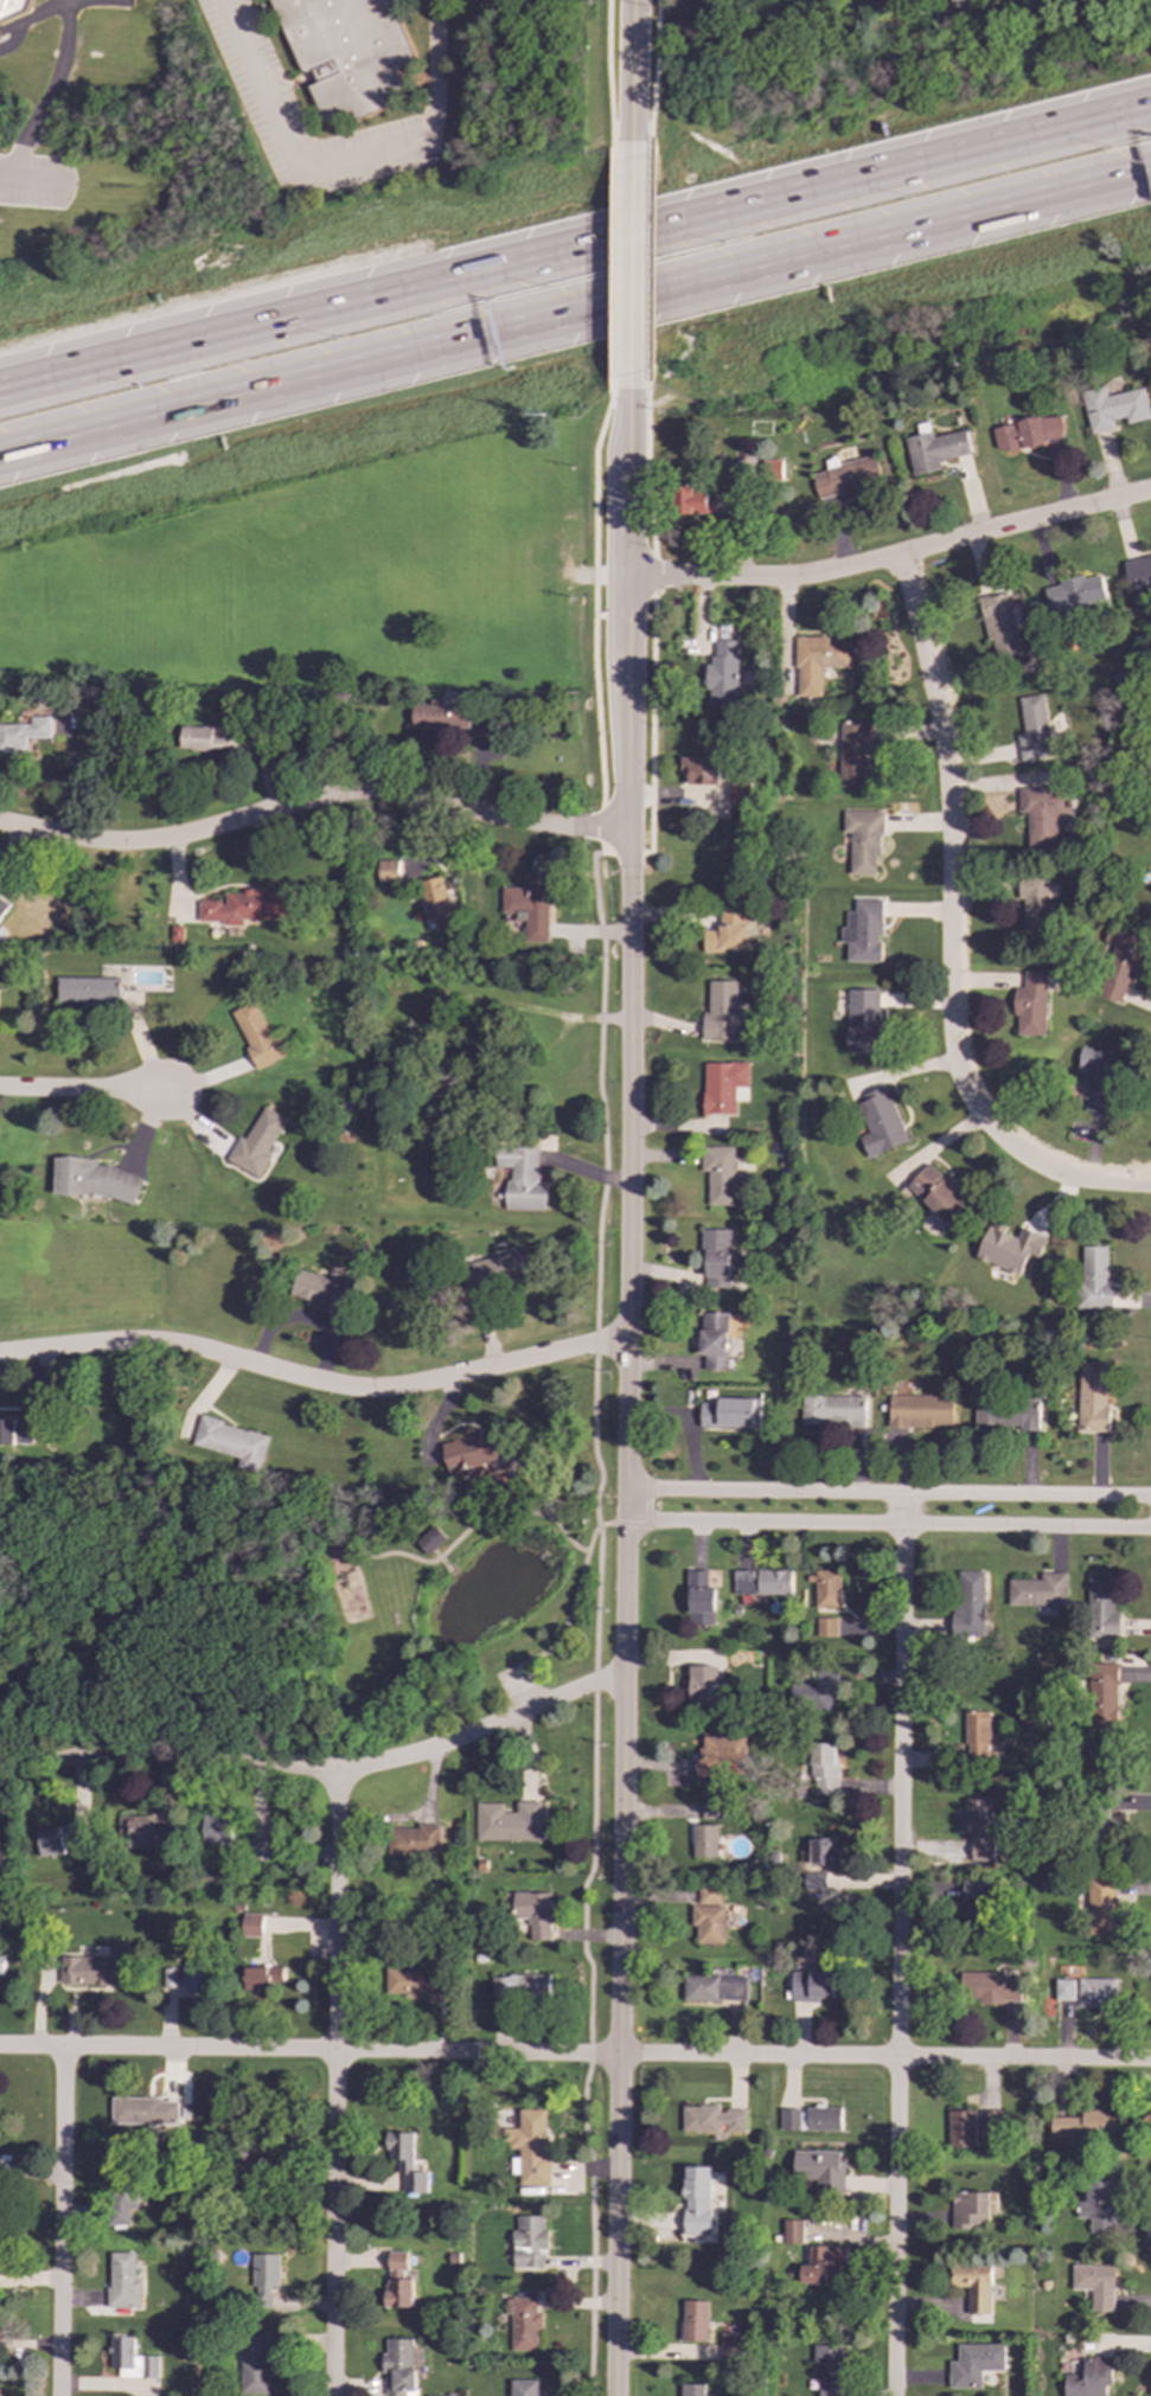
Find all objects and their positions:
building: (959, 4)
building: (12, 8)
building: (349, 51)
road: (608, 70)
road: (633, 70)
road: (654, 70)
road: (50, 95)
road: (341, 159)
road: (575, 244)
road: (613, 264)
road: (632, 264)
road: (648, 265)
road: (575, 313)
building: (1113, 404)
building: (1028, 430)
building: (936, 446)
building: (772, 468)
road: (650, 473)
building: (846, 475)
building: (691, 498)
road: (895, 556)
road: (652, 572)
building: (1139, 577)
building: (1074, 592)
road: (593, 596)
road: (621, 615)
building: (999, 622)
building: (819, 658)
building: (720, 670)
building: (440, 715)
road: (651, 722)
building: (1034, 725)
building: (23, 733)
building: (200, 739)
building: (851, 750)
building: (698, 767)
building: (738, 787)
road: (314, 800)
building: (1042, 812)
road: (600, 828)
building: (864, 840)
road: (624, 851)
building: (388, 876)
building: (1150, 879)
building: (1150, 888)
building: (1034, 901)
building: (435, 902)
building: (245, 906)
building: (2, 908)
building: (527, 910)
building: (727, 927)
building: (863, 930)
road: (948, 933)
road: (631, 938)
building: (1123, 956)
building: (88, 991)
building: (1029, 1001)
road: (465, 1002)
building: (721, 1008)
building: (863, 1018)
building: (256, 1034)
road: (533, 1069)
building: (1094, 1072)
building: (724, 1088)
road: (82, 1090)
building: (878, 1121)
building: (256, 1143)
building: (717, 1174)
building: (522, 1178)
building: (94, 1179)
building: (936, 1196)
building: (1008, 1247)
building: (715, 1254)
building: (490, 1276)
building: (1093, 1276)
building: (324, 1290)
building: (712, 1339)
road: (313, 1380)
building: (1092, 1395)
building: (832, 1404)
building: (919, 1408)
building: (1005, 1408)
building: (729, 1412)
building: (15, 1431)
building: (232, 1443)
building: (472, 1455)
road: (887, 1494)
road: (625, 1505)
road: (472, 1525)
road: (887, 1526)
building: (430, 1539)
road: (436, 1553)
road: (445, 1564)
road: (135, 1568)
building: (762, 1583)
building: (826, 1589)
building: (1038, 1591)
building: (699, 1600)
building: (968, 1603)
building: (1101, 1609)
park: (289, 1615)
road: (595, 1622)
road: (562, 1625)
building: (826, 1627)
parking lot: (517, 1683)
building: (703, 1685)
building: (816, 1693)
road: (568, 1695)
building: (1104, 1696)
building: (976, 1736)
building: (720, 1756)
road: (260, 1763)
building: (824, 1768)
building: (712, 1811)
building: (507, 1821)
building: (978, 1827)
building: (148, 1833)
building: (59, 1840)
building: (413, 1841)
building: (704, 1841)
building: (820, 1851)
building: (260, 1852)
building: (0, 1869)
building: (813, 1884)
building: (709, 1895)
building: (977, 1904)
building: (1102, 1905)
building: (533, 1913)
building: (709, 1923)
building: (252, 1924)
road: (897, 1946)
building: (1, 1959)
road: (620, 1959)
building: (97, 1968)
building: (196, 1971)
building: (170, 1978)
building: (262, 1978)
building: (415, 1982)
building: (520, 1986)
building: (812, 1986)
building: (715, 1988)
building: (989, 1988)
building: (1098, 1993)
road: (575, 2055)
road: (335, 2082)
building: (145, 2112)
building: (810, 2119)
building: (711, 2120)
building: (1085, 2126)
building: (961, 2129)
building: (531, 2147)
building: (407, 2163)
building: (820, 2170)
building: (122, 2193)
building: (698, 2205)
building: (1098, 2208)
building: (971, 2211)
road: (62, 2222)
building: (793, 2232)
building: (529, 2243)
building: (824, 2267)
building: (264, 2280)
building: (122, 2282)
building: (398, 2282)
building: (1095, 2286)
building: (974, 2287)
building: (523, 2323)
building: (695, 2323)
building: (731, 2345)
building: (132, 2359)
building: (256, 2363)
building: (976, 2365)
building: (398, 2366)
building: (827, 2369)
building: (1089, 2378)
building: (525, 2388)
building: (691, 2390)

